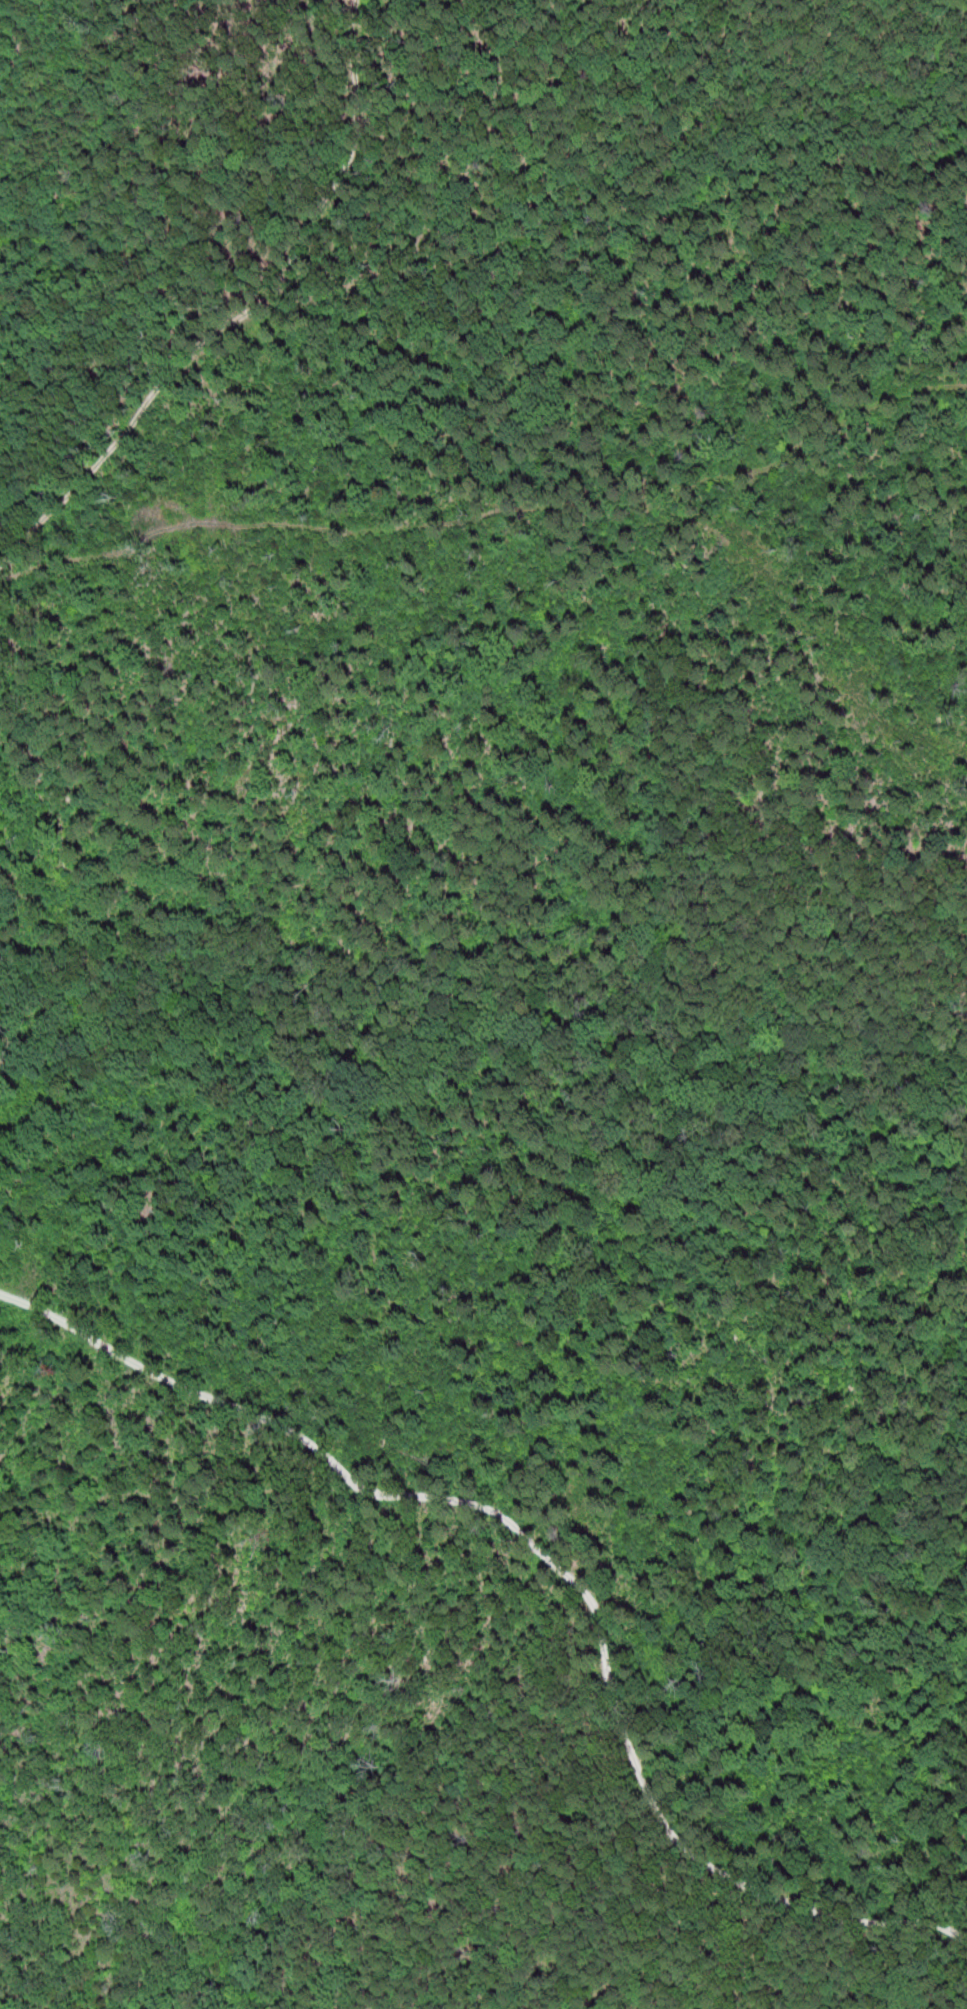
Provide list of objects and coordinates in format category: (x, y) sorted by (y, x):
road: (548, 1565)

